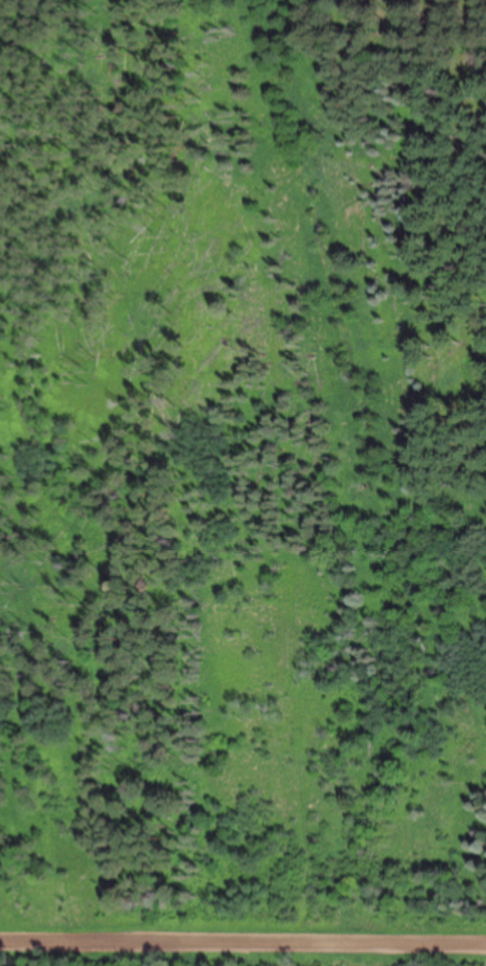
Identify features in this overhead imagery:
road: (243, 942)

